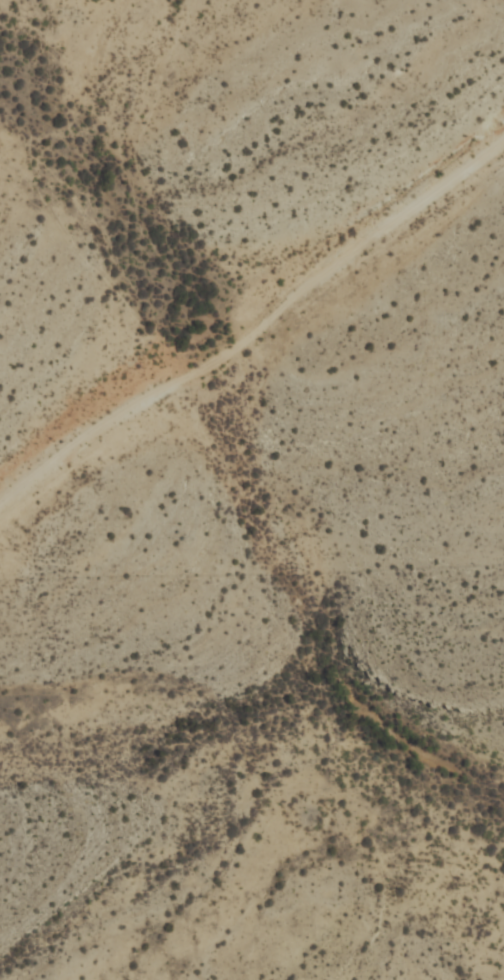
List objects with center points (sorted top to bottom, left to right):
road: (254, 326)
park: (252, 765)

